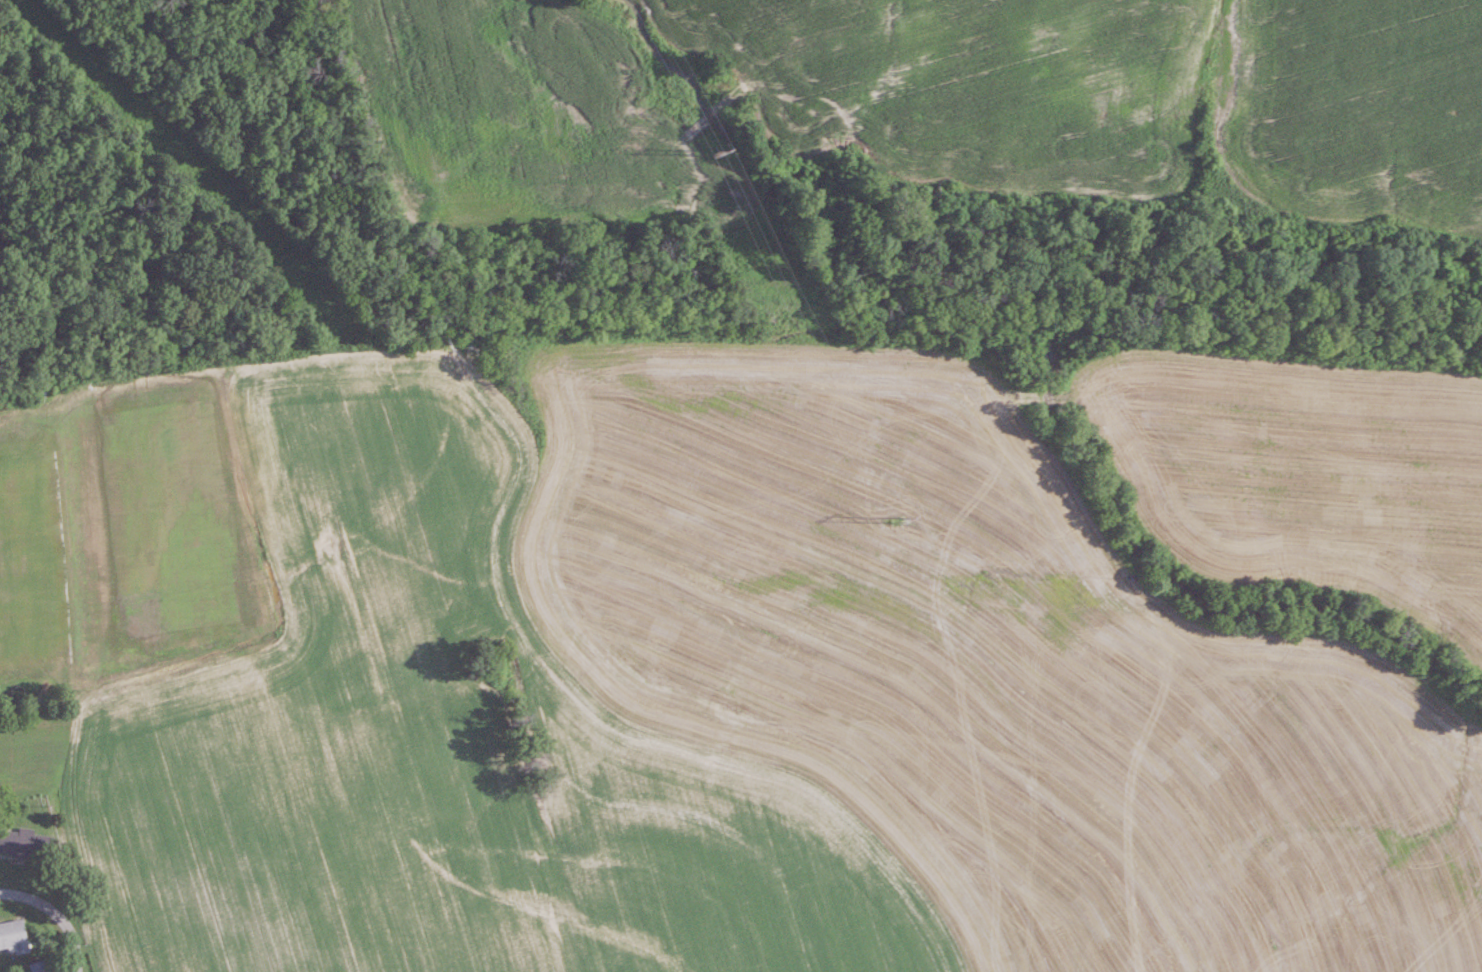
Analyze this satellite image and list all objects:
building: (25, 844)
road: (58, 914)
building: (12, 936)
building: (43, 966)

